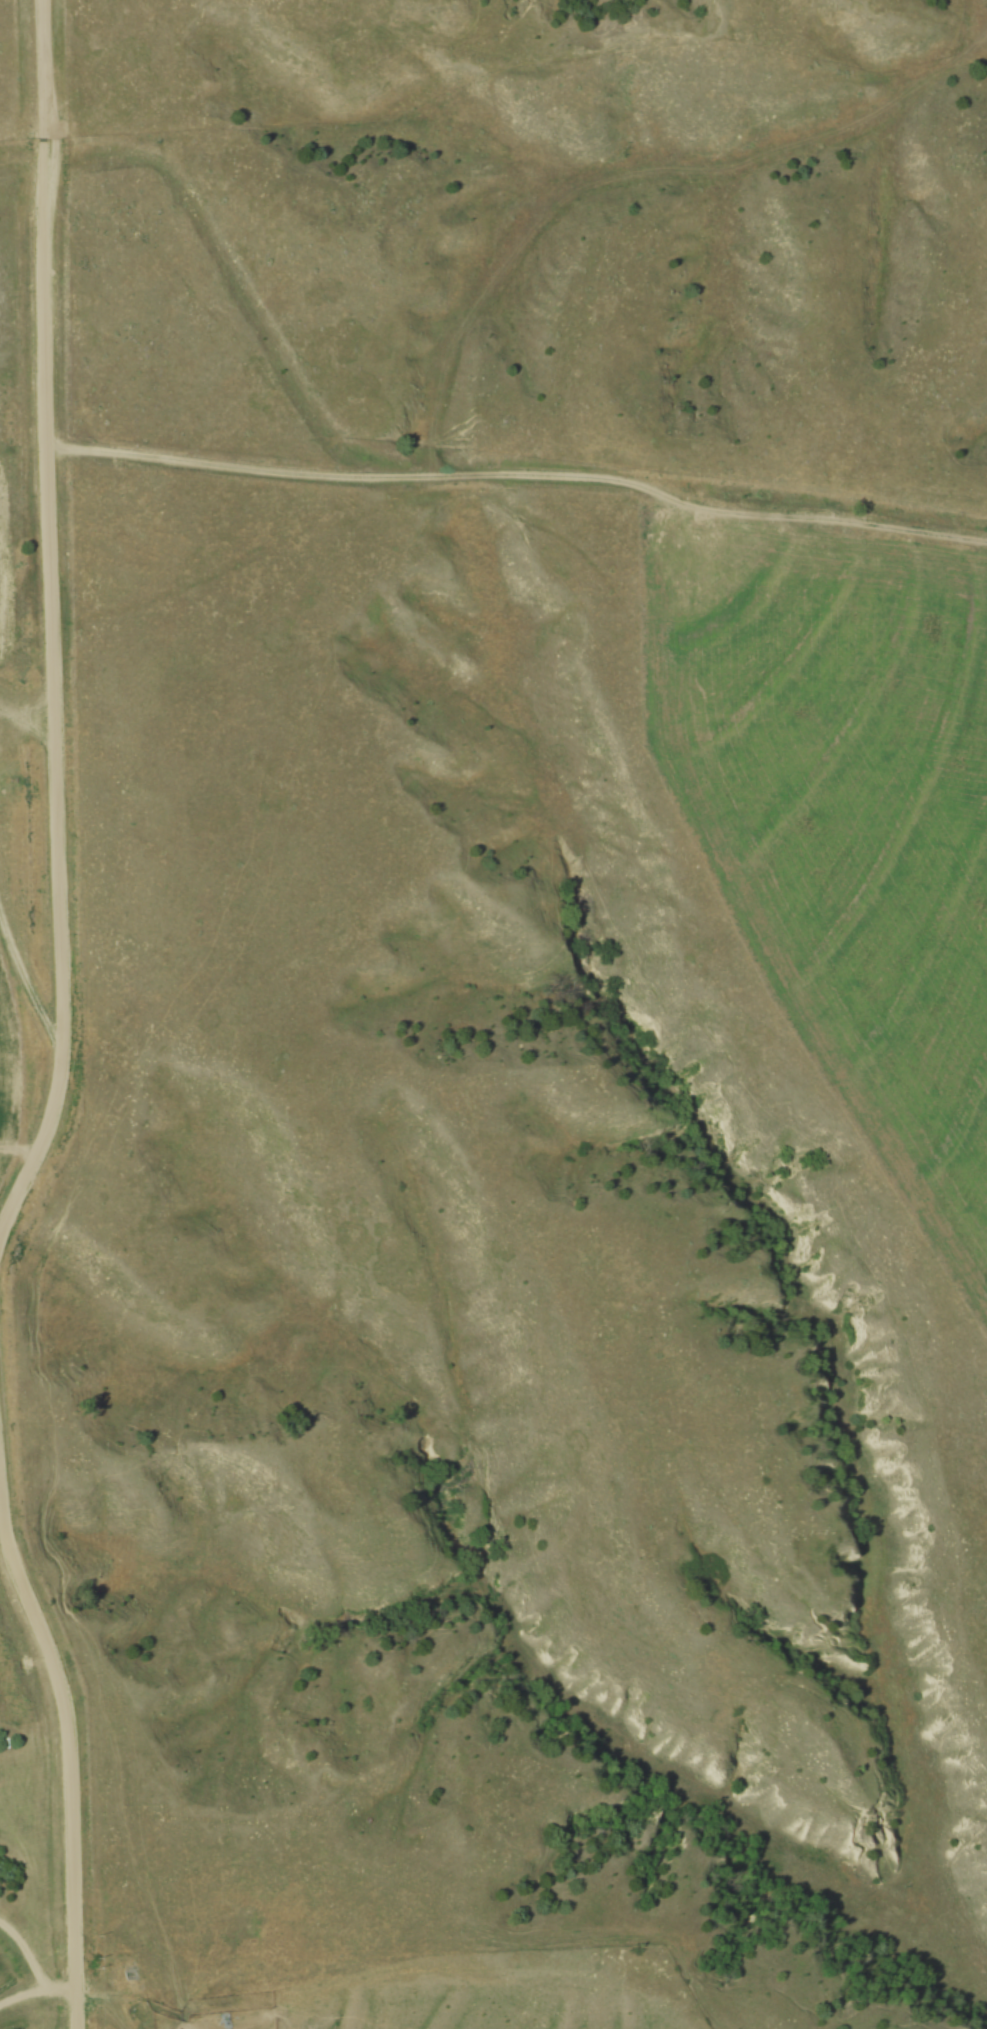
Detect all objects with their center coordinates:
road: (519, 475)
road: (50, 623)
road: (68, 1723)
road: (35, 1985)

